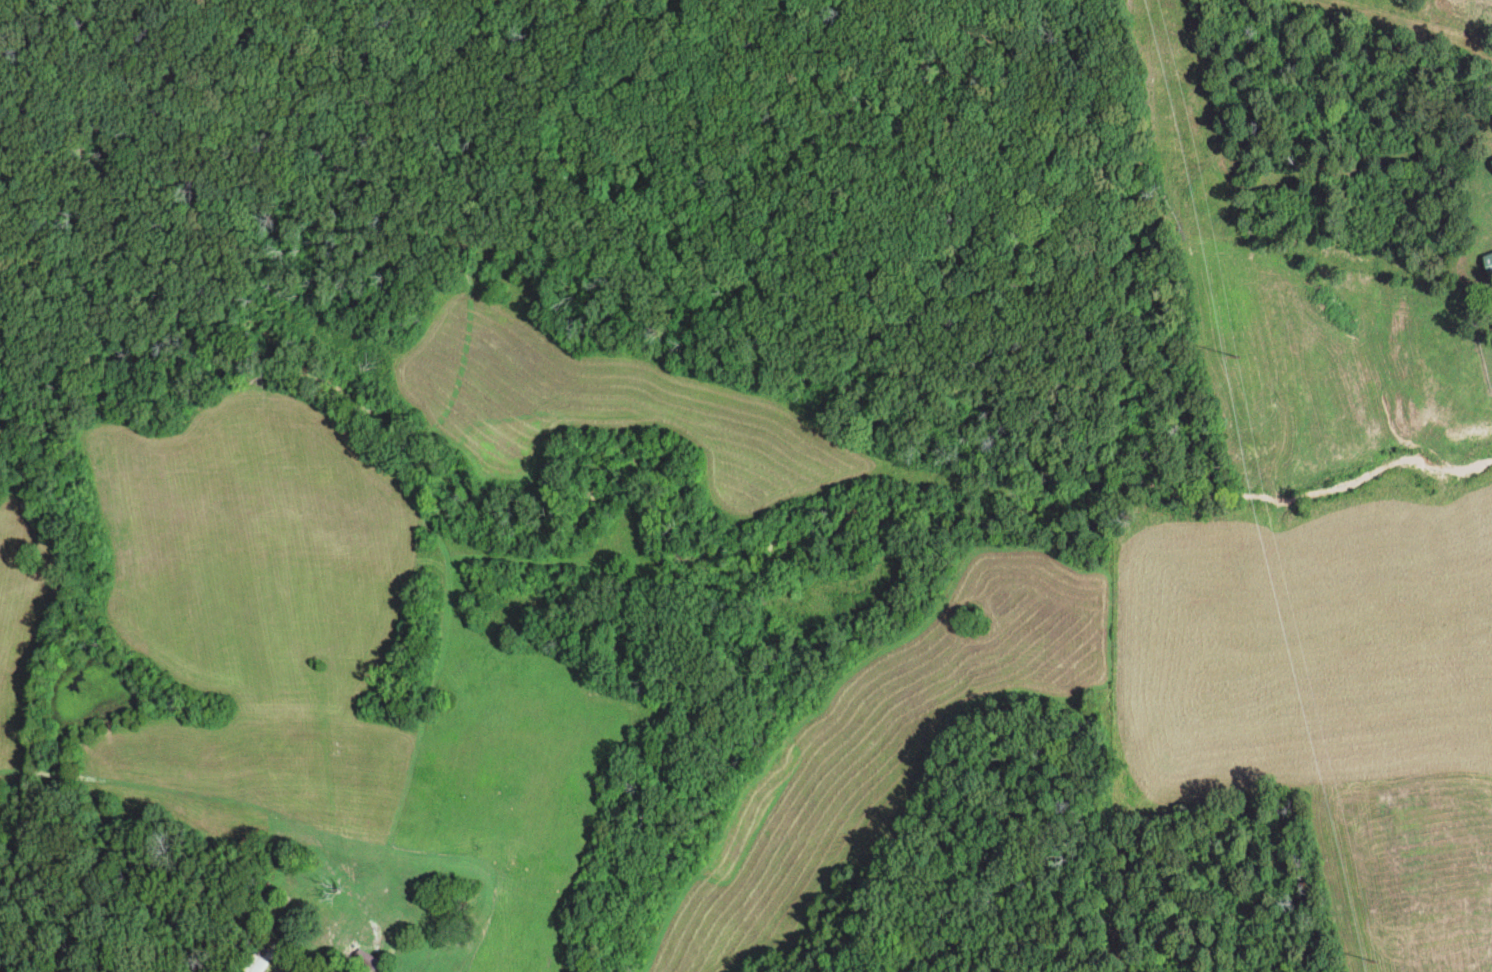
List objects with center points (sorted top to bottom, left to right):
building: (370, 961)
building: (256, 964)

